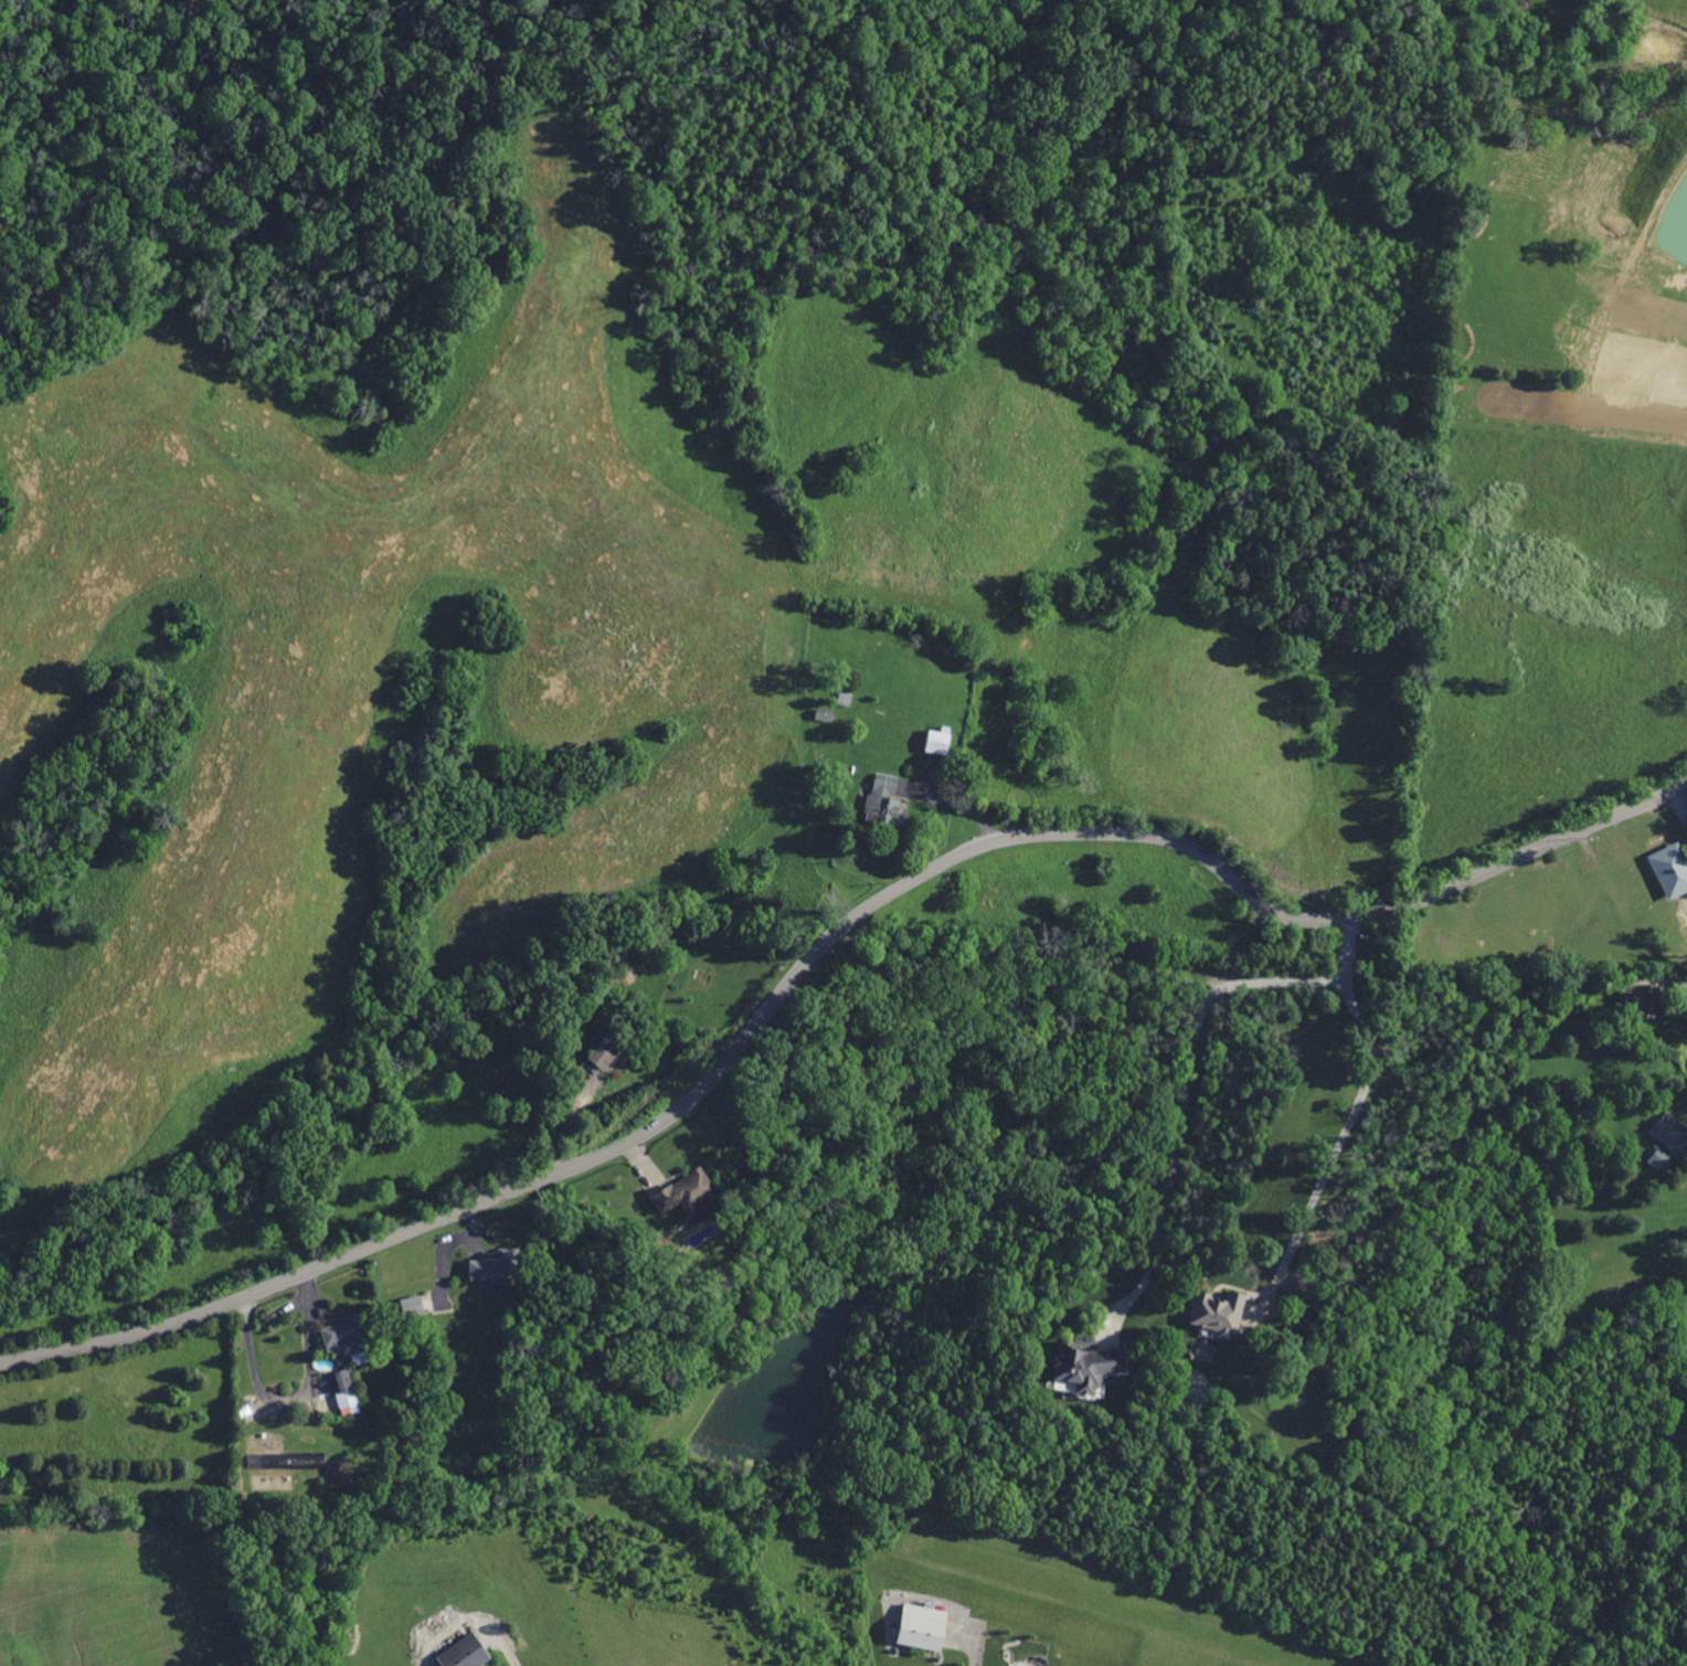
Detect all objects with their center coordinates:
park: (233, 134)
building: (824, 668)
building: (845, 697)
building: (824, 714)
building: (937, 740)
building: (883, 802)
building: (1570, 861)
building: (1667, 867)
building: (654, 938)
road: (823, 943)
road: (1685, 979)
building: (1643, 1000)
building: (1613, 1022)
building: (616, 1043)
road: (1188, 1085)
building: (1669, 1132)
building: (675, 1149)
building: (1264, 1158)
building: (1658, 1159)
building: (685, 1193)
road: (1309, 1203)
road: (1351, 1213)
building: (497, 1265)
building: (1299, 1286)
building: (412, 1307)
building: (1217, 1313)
building: (347, 1339)
building: (1086, 1367)
building: (343, 1388)
building: (269, 1462)
building: (272, 1483)
building: (307, 1485)
building: (57, 1499)
building: (924, 1626)
road: (976, 1653)
building: (465, 1654)

